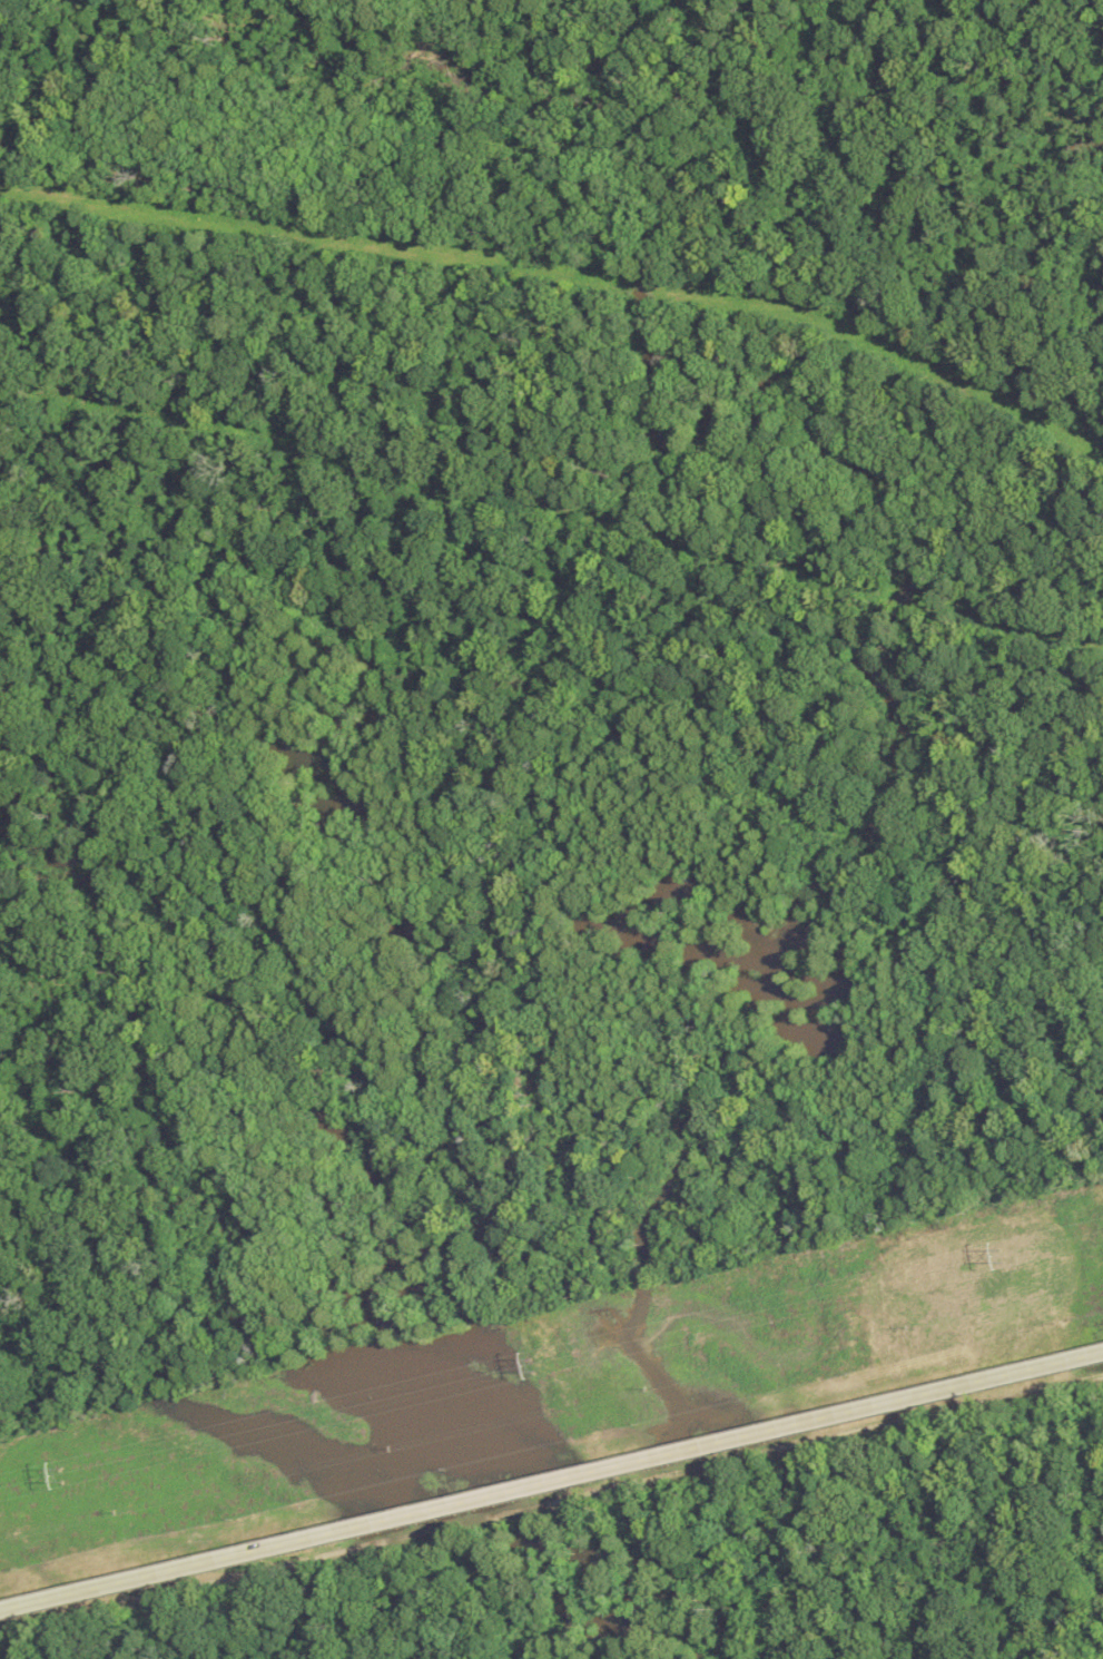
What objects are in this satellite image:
power tower: (998, 1256)
power tower: (532, 1365)
power tower: (62, 1478)
road: (551, 1482)

